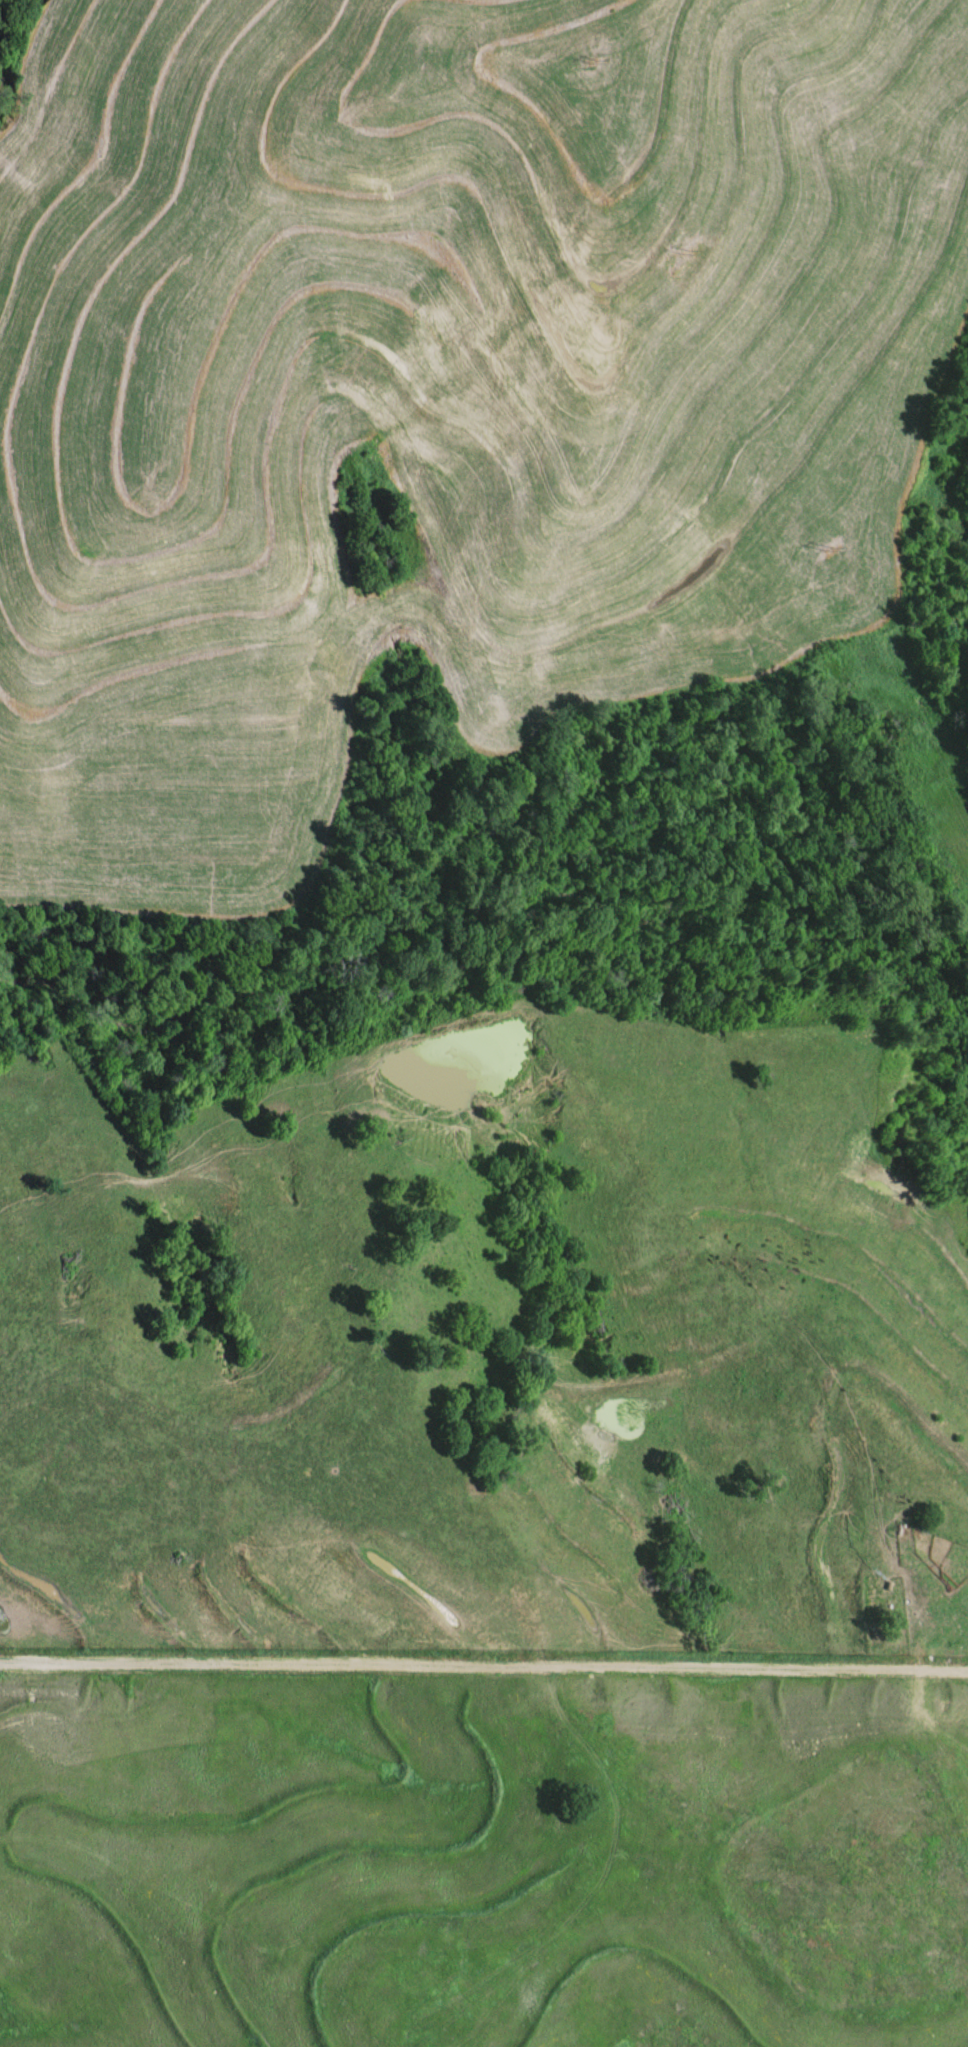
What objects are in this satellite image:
road: (483, 1664)

